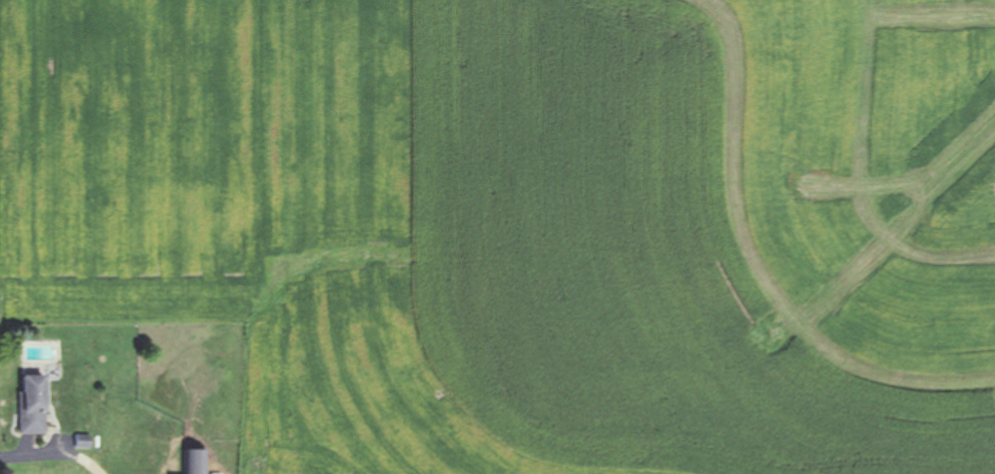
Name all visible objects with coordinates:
building: (33, 404)
building: (195, 461)

